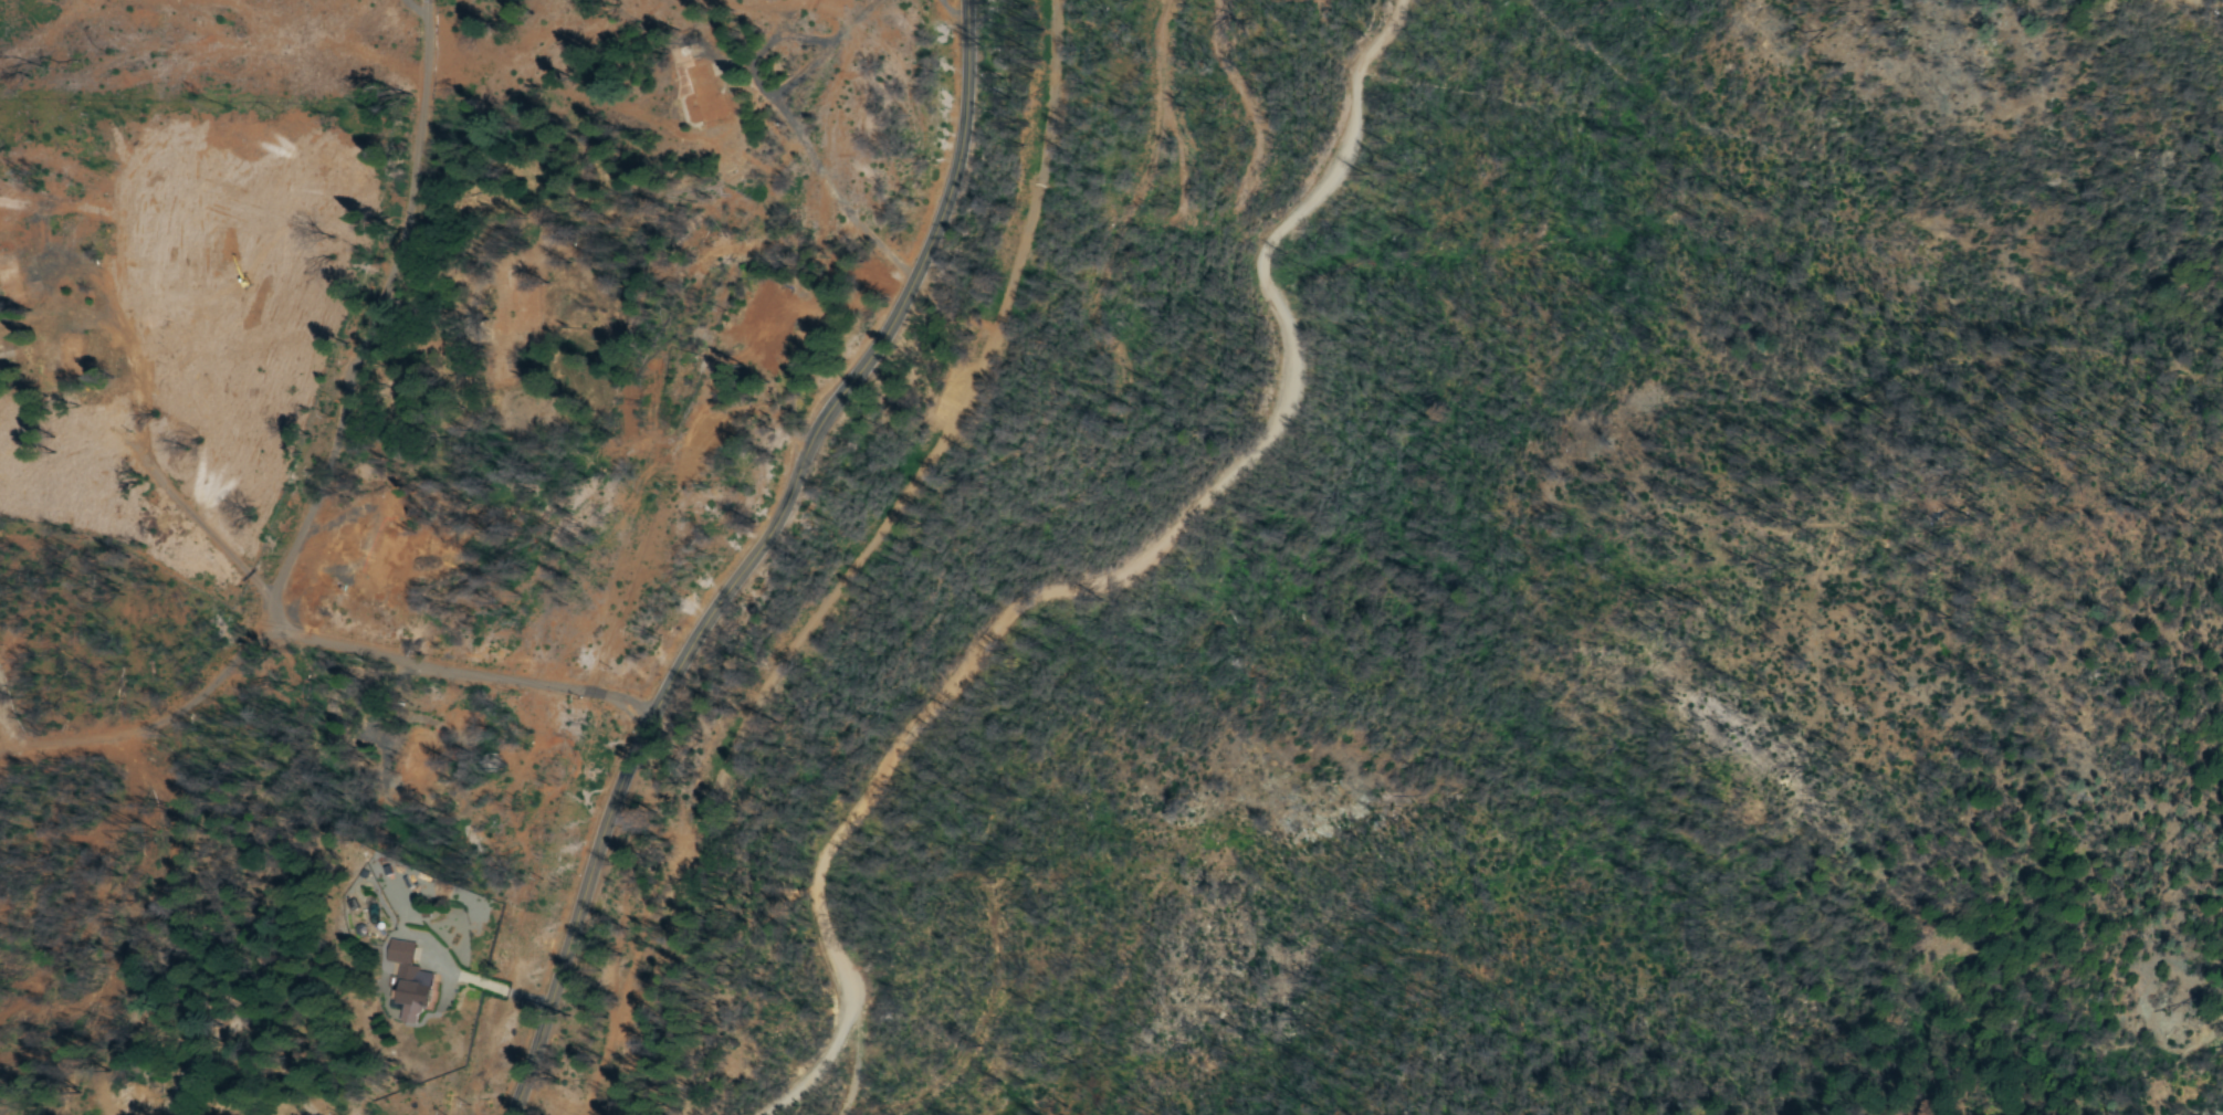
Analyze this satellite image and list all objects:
road: (301, 263)
road: (337, 527)
road: (755, 557)
road: (883, 576)
road: (1103, 581)
building: (405, 954)
building: (421, 986)

